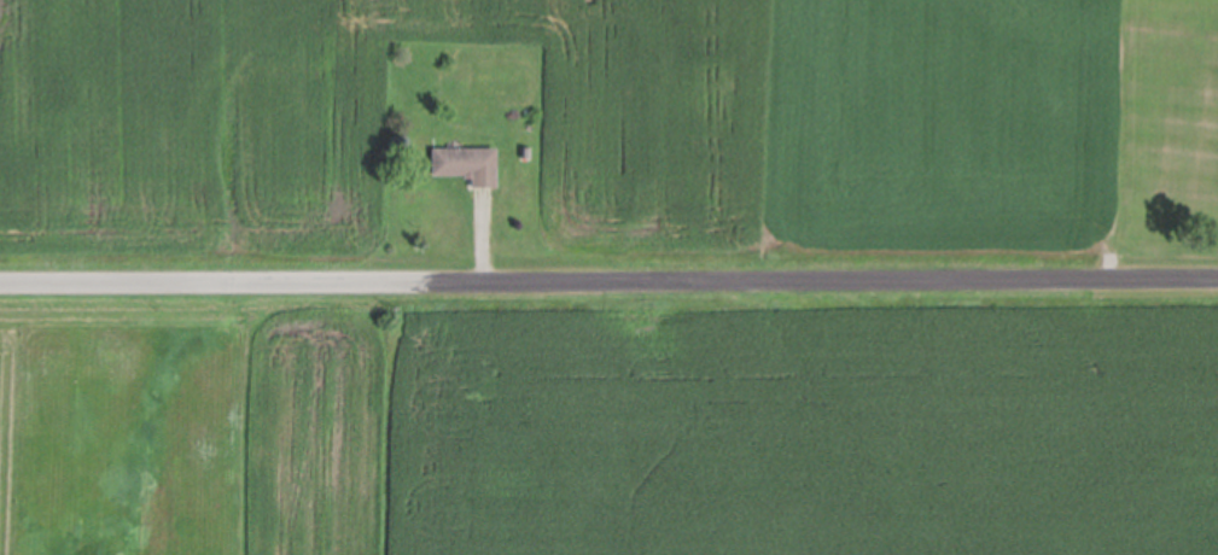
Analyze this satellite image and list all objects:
crop: (572, 121)
building: (466, 162)
road: (608, 280)

